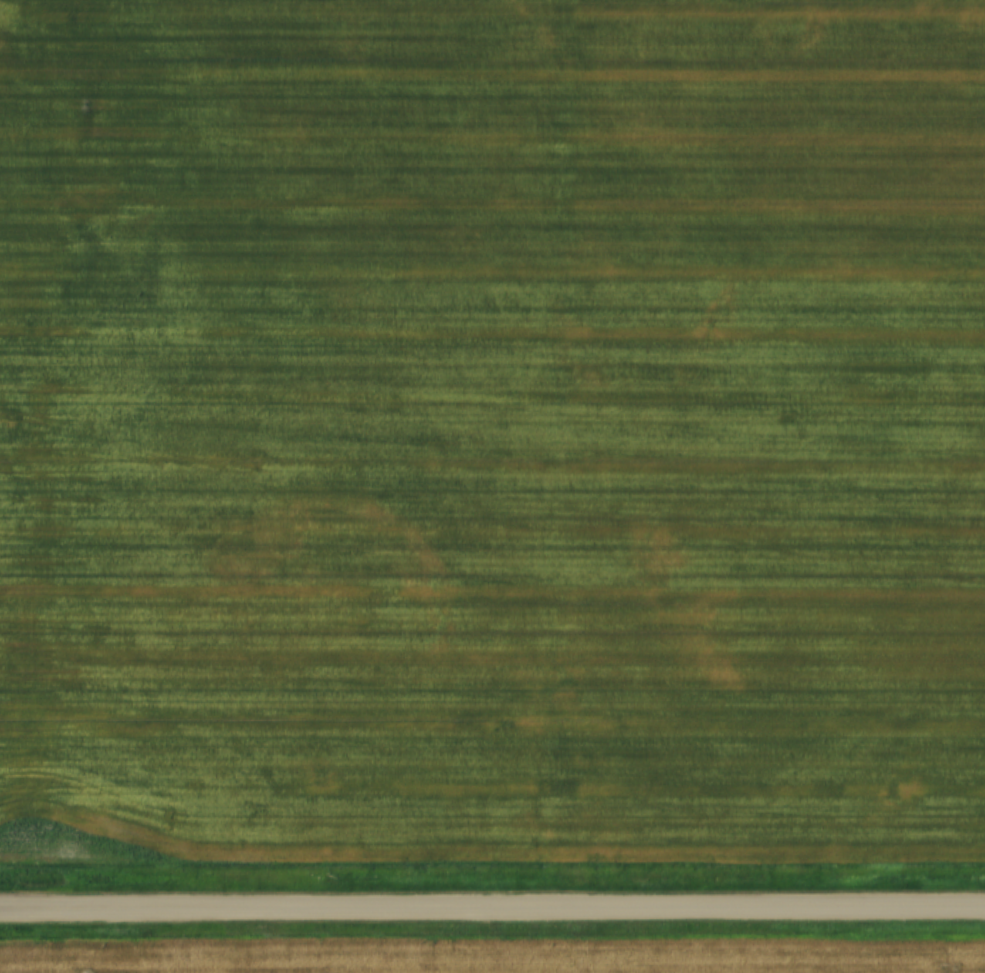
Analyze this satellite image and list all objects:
road: (492, 910)

